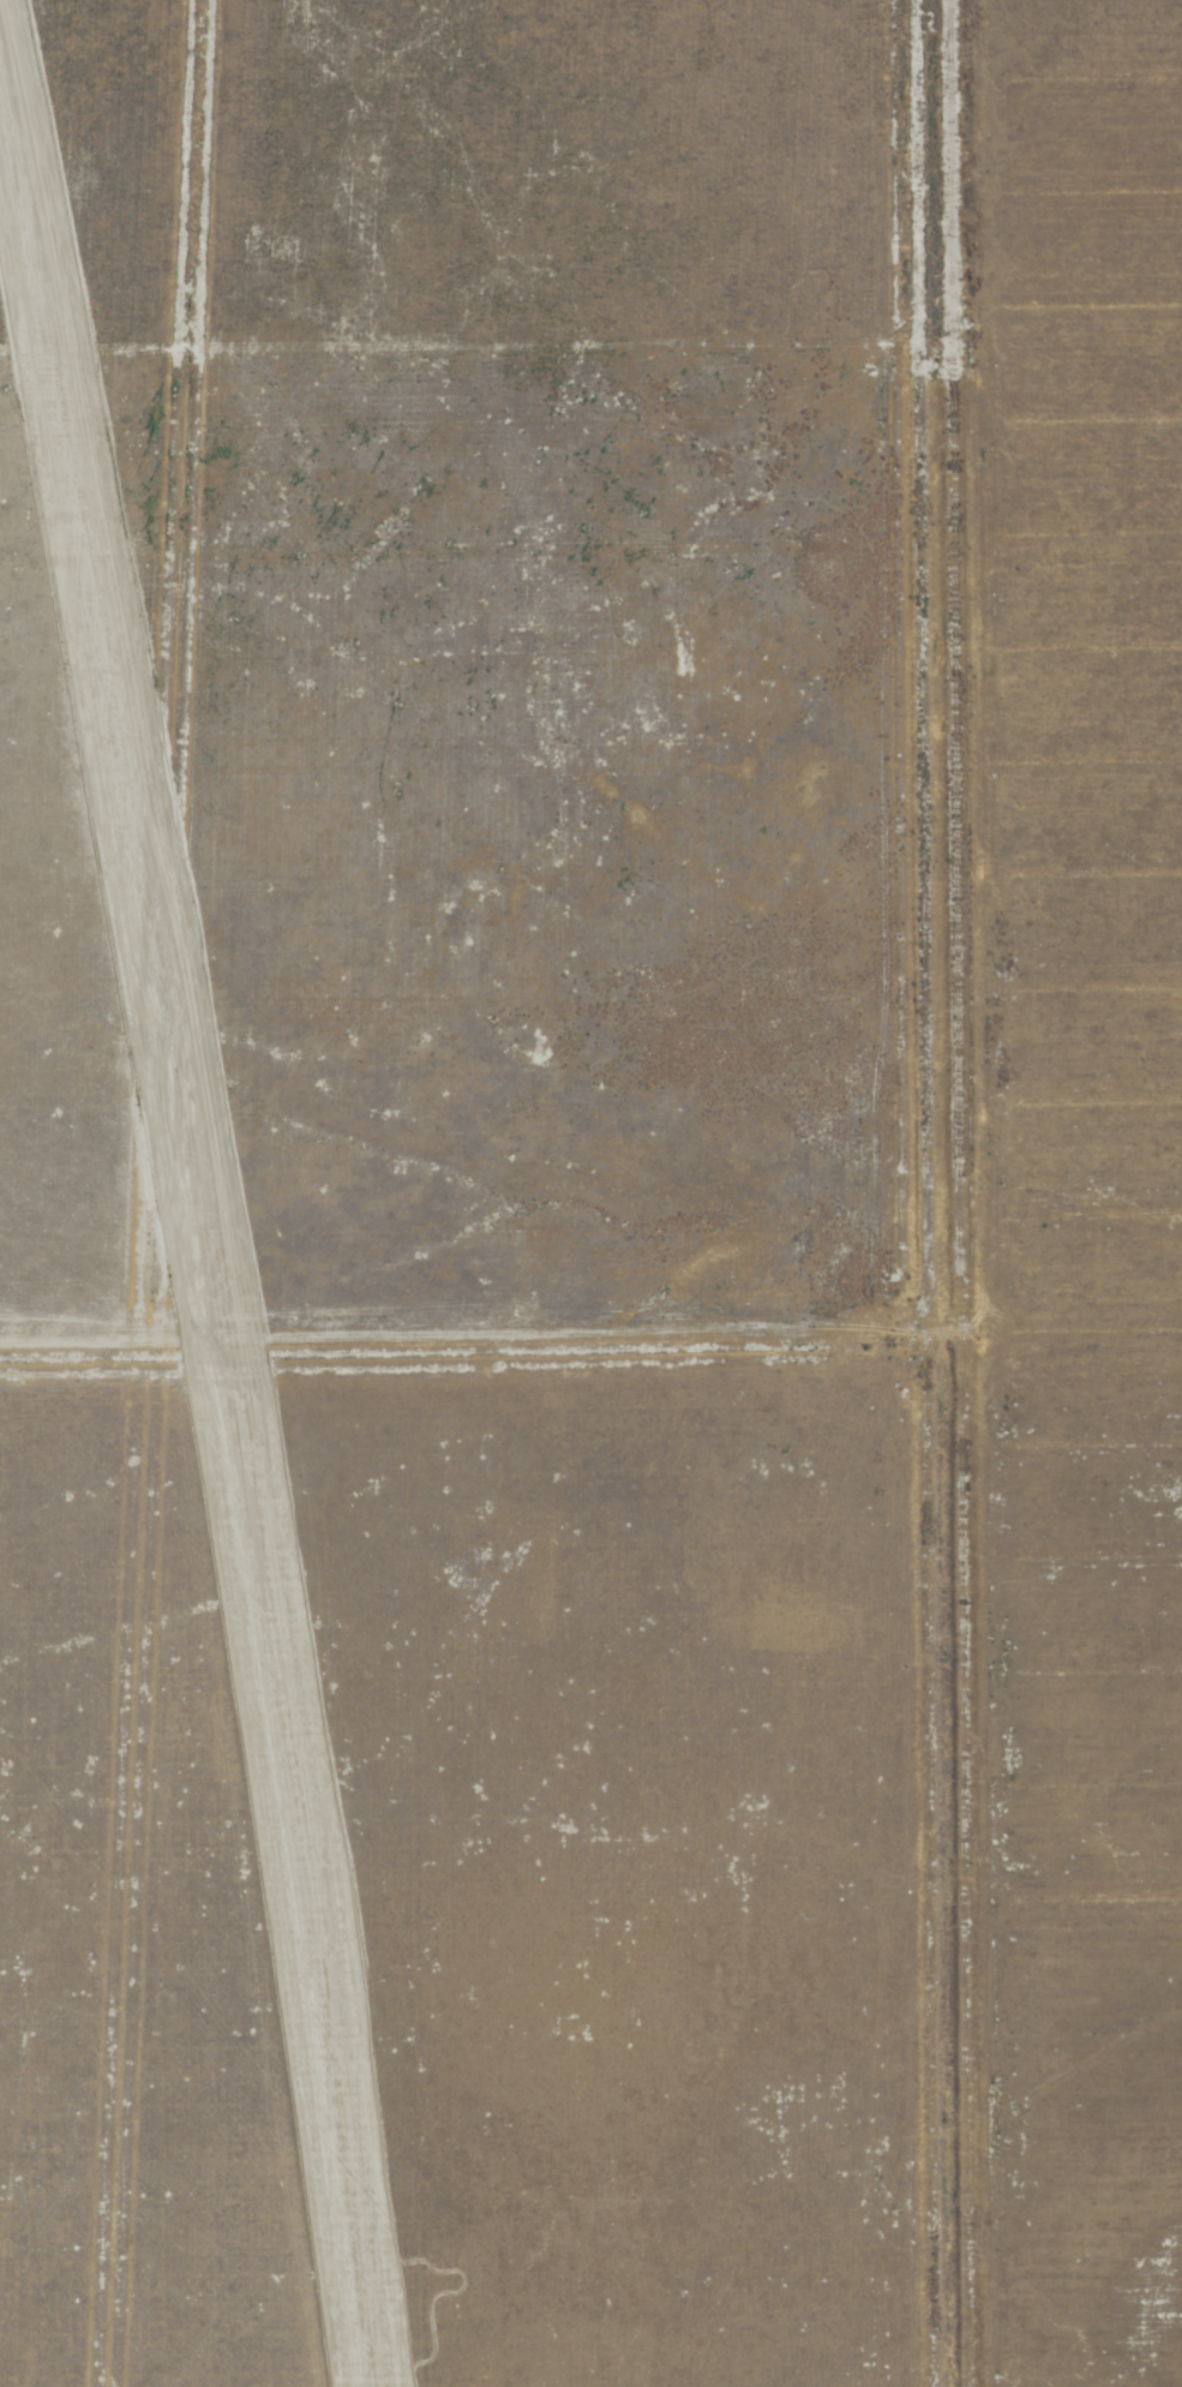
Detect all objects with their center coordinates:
park: (1085, 1172)
railway: (205, 1214)
railway: (197, 1242)
crop: (695, 1609)

